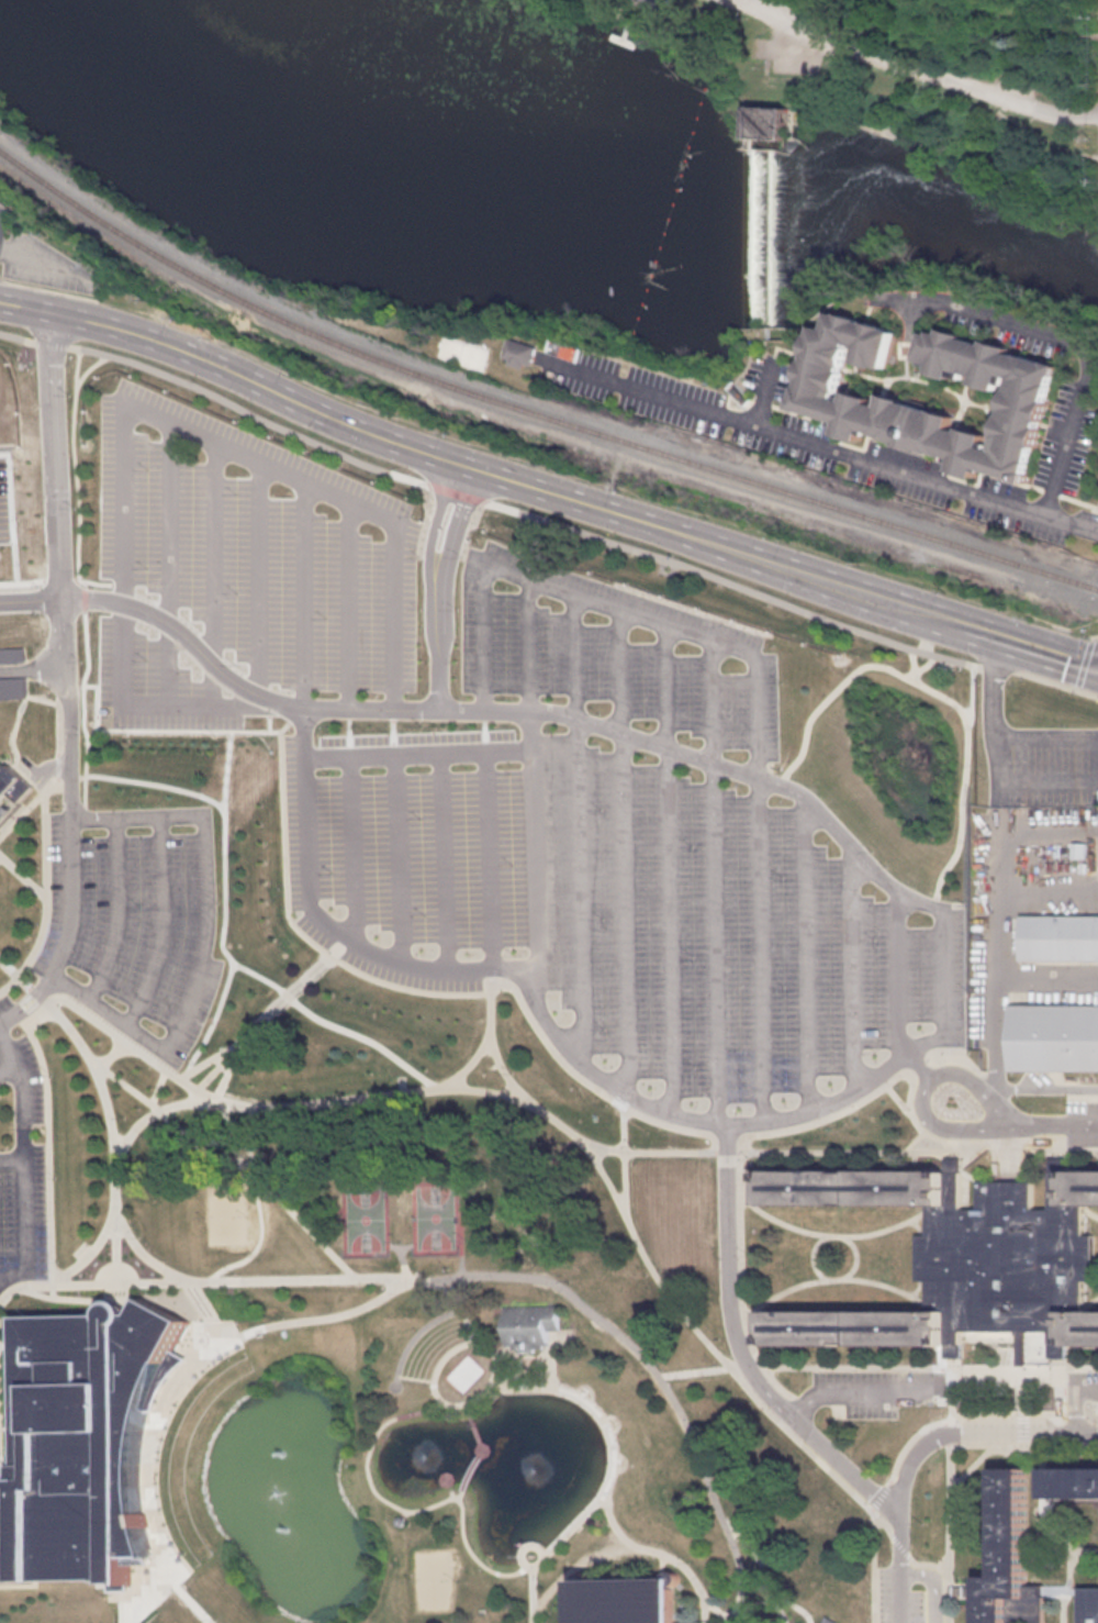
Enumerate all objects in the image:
building: (656, 4)
pier: (628, 32)
pier: (626, 36)
parking lot: (797, 57)
road: (912, 64)
park: (883, 86)
road: (841, 110)
road: (841, 122)
building: (773, 123)
road: (975, 132)
road: (903, 138)
river: (458, 153)
river: (994, 221)
road: (48, 262)
road: (1, 278)
road: (49, 288)
road: (64, 314)
road: (16, 338)
road: (51, 344)
building: (562, 348)
park: (463, 352)
building: (520, 353)
road: (1087, 354)
road: (88, 366)
building: (736, 390)
building: (815, 394)
road: (298, 400)
railway: (529, 411)
road: (53, 415)
road: (257, 416)
road: (205, 442)
road: (817, 445)
road: (904, 446)
road: (1049, 490)
road: (459, 492)
parking lot: (3, 496)
road: (1078, 501)
road: (77, 519)
road: (733, 549)
road: (166, 566)
road: (210, 576)
road: (721, 579)
road: (438, 583)
road: (255, 585)
road: (302, 596)
road: (29, 598)
road: (345, 604)
road: (927, 632)
road: (1094, 635)
road: (1097, 636)
road: (526, 645)
road: (1047, 651)
building: (9, 654)
road: (1085, 660)
road: (63, 663)
road: (912, 663)
road: (926, 664)
road: (977, 665)
road: (998, 668)
road: (32, 669)
road: (753, 674)
road: (1056, 682)
building: (10, 687)
road: (1077, 687)
road: (65, 689)
road: (971, 691)
road: (938, 694)
road: (37, 698)
road: (82, 705)
road: (264, 719)
road: (175, 720)
road: (54, 724)
road: (90, 733)
road: (85, 748)
road: (258, 748)
road: (413, 753)
road: (1096, 756)
road: (55, 765)
road: (46, 766)
road: (67, 777)
road: (81, 777)
parking lot: (516, 777)
building: (4, 783)
road: (27, 804)
road: (575, 829)
road: (1046, 832)
road: (348, 848)
road: (529, 851)
road: (620, 852)
road: (393, 857)
road: (439, 859)
road: (484, 859)
parking lot: (1032, 865)
road: (666, 868)
road: (23, 874)
road: (997, 878)
road: (713, 880)
road: (1047, 889)
road: (45, 900)
road: (117, 910)
road: (284, 920)
parking lot: (133, 921)
road: (163, 923)
road: (69, 931)
road: (205, 935)
building: (1060, 937)
road: (329, 948)
road: (805, 956)
road: (850, 970)
road: (895, 976)
road: (943, 976)
road: (1047, 982)
road: (285, 996)
road: (489, 1036)
building: (1053, 1037)
road: (231, 1054)
road: (959, 1058)
road: (210, 1063)
parking lot: (22, 1064)
road: (468, 1064)
road: (921, 1065)
road: (9, 1067)
road: (920, 1070)
road: (228, 1075)
road: (990, 1076)
road: (583, 1081)
road: (160, 1086)
road: (923, 1088)
road: (1049, 1088)
road: (24, 1089)
road: (452, 1089)
road: (910, 1089)
parking lot: (1, 1092)
road: (896, 1097)
road: (160, 1110)
road: (112, 1114)
road: (828, 1116)
road: (1049, 1121)
road: (928, 1133)
road: (726, 1136)
road: (727, 1137)
road: (914, 1141)
road: (1007, 1143)
road: (1062, 1148)
road: (727, 1150)
road: (862, 1150)
road: (650, 1152)
road: (215, 1154)
road: (623, 1154)
road: (13, 1159)
building: (851, 1187)
building: (1074, 1187)
road: (258, 1203)
parking lot: (24, 1209)
road: (1093, 1212)
park: (226, 1214)
park: (435, 1216)
park: (366, 1218)
road: (27, 1230)
road: (831, 1234)
road: (119, 1249)
road: (91, 1253)
building: (531, 1253)
building: (1002, 1261)
road: (740, 1275)
road: (477, 1277)
road: (726, 1277)
road: (832, 1278)
road: (881, 1283)
road: (442, 1288)
road: (783, 1290)
road: (463, 1294)
road: (81, 1298)
road: (1093, 1300)
road: (329, 1316)
building: (528, 1324)
building: (851, 1326)
building: (1071, 1330)
road: (1006, 1335)
road: (415, 1336)
road: (988, 1338)
road: (1019, 1338)
park: (460, 1339)
road: (457, 1345)
road: (1005, 1350)
road: (0, 1366)
road: (729, 1367)
road: (744, 1367)
road: (927, 1367)
parking lot: (1089, 1381)
flagpole: (527, 1386)
parking lot: (867, 1389)
road: (860, 1394)
road: (1075, 1400)
road: (1, 1402)
road: (795, 1403)
road: (1022, 1405)
road: (464, 1408)
road: (1024, 1410)
road: (941, 1412)
road: (939, 1416)
building: (85, 1439)
road: (1023, 1444)
fountain: (271, 1445)
road: (921, 1448)
fountain: (422, 1450)
road: (478, 1452)
road: (829, 1453)
road: (896, 1461)
road: (972, 1464)
fountain: (524, 1466)
road: (148, 1470)
building: (1072, 1481)
fountain: (284, 1492)
road: (460, 1493)
road: (950, 1494)
road: (1069, 1509)
road: (1045, 1514)
road: (883, 1525)
fountain: (300, 1527)
flagpole: (536, 1544)
flagpole: (524, 1545)
road: (898, 1546)
road: (1084, 1549)
road: (656, 1553)
flagpole: (517, 1556)
building: (1010, 1559)
road: (480, 1561)
road: (927, 1563)
road: (764, 1568)
park: (433, 1579)
road: (933, 1581)
road: (20, 1585)
road: (121, 1594)
road: (531, 1594)
road: (190, 1597)
parking lot: (896, 1598)
building: (625, 1600)
road: (1067, 1603)
building: (1091, 1604)
road: (795, 1605)
road: (715, 1610)
building: (829, 1620)

